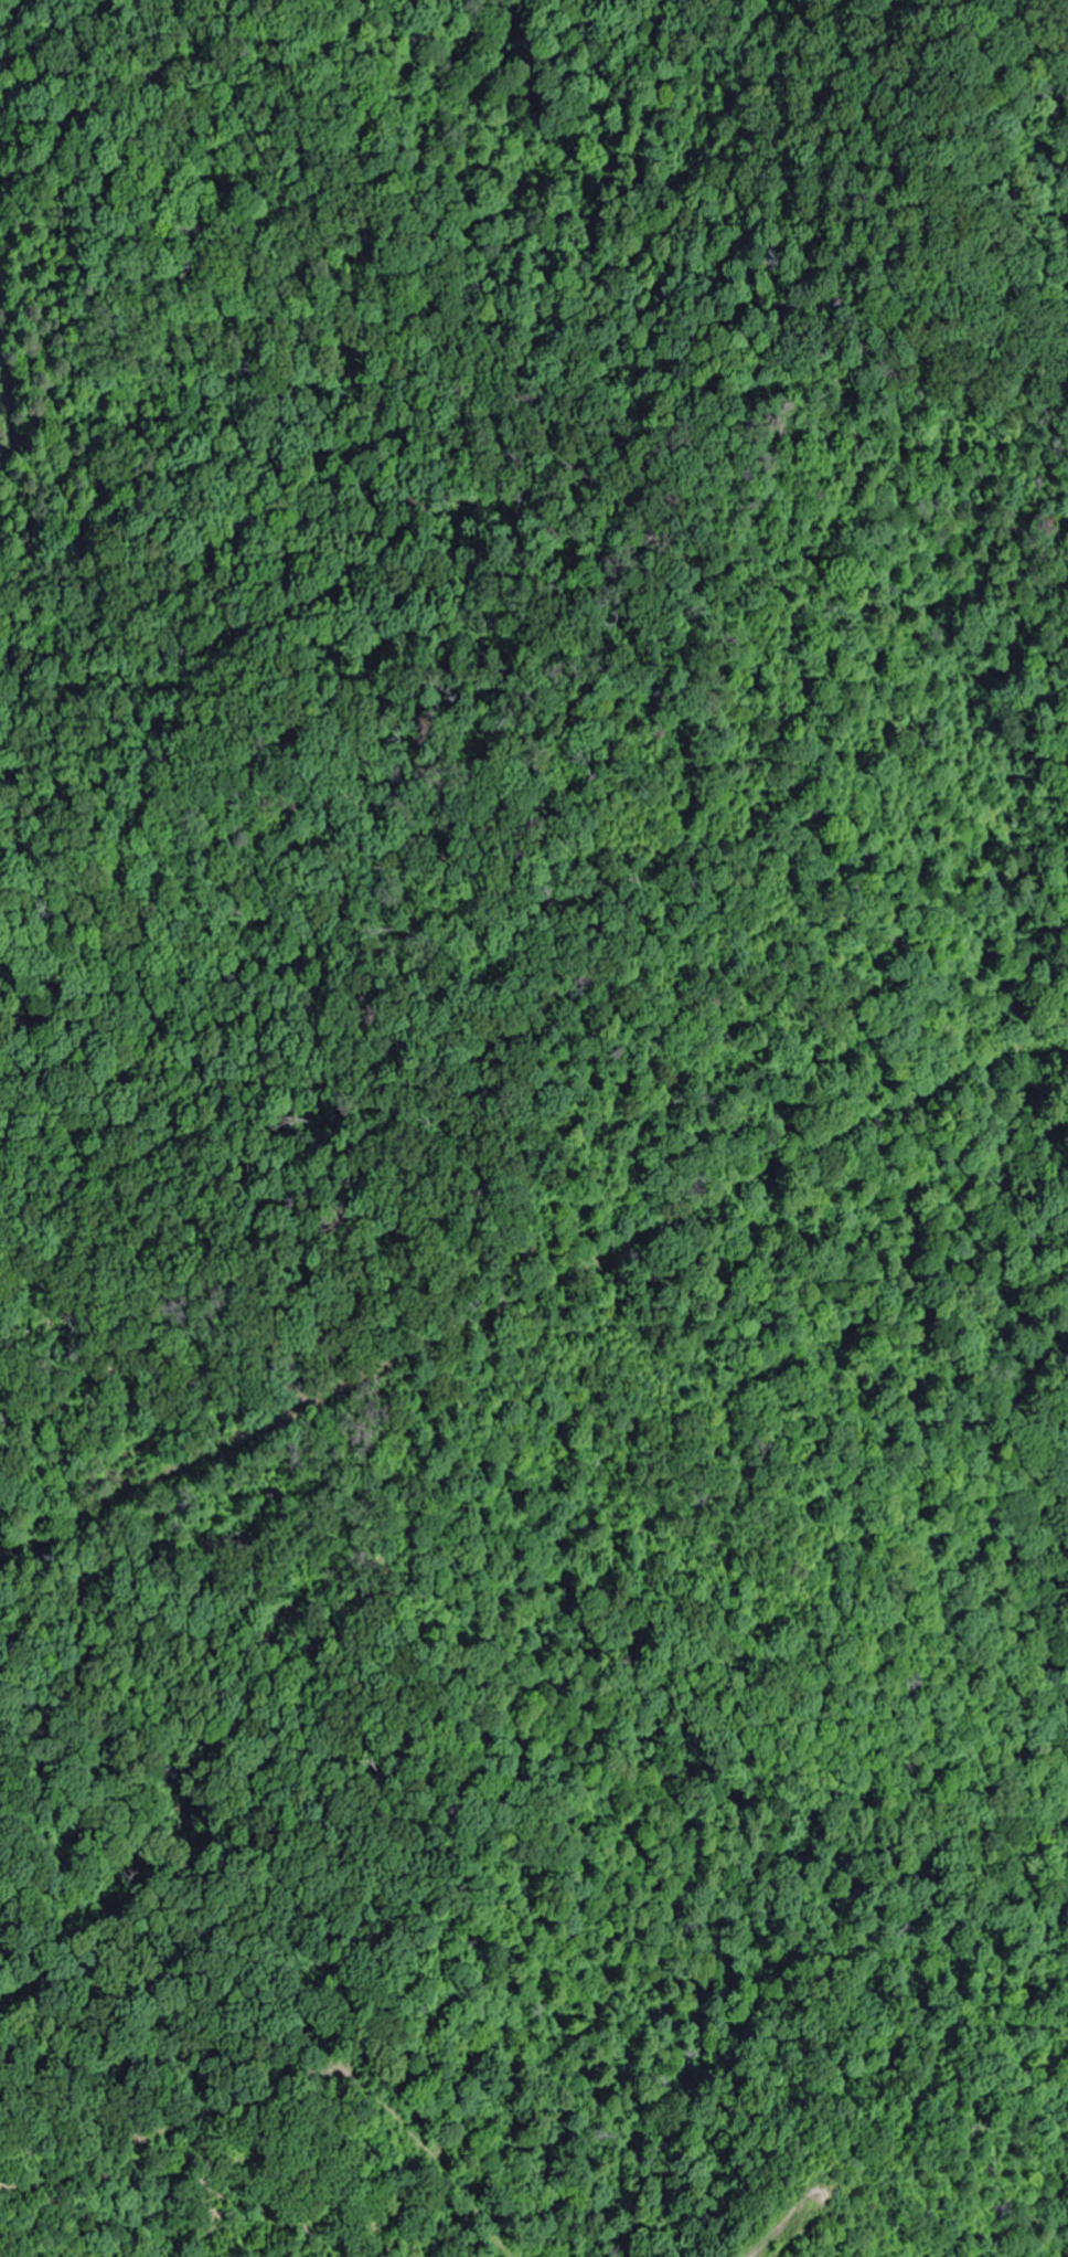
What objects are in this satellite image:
road: (0, 3)

